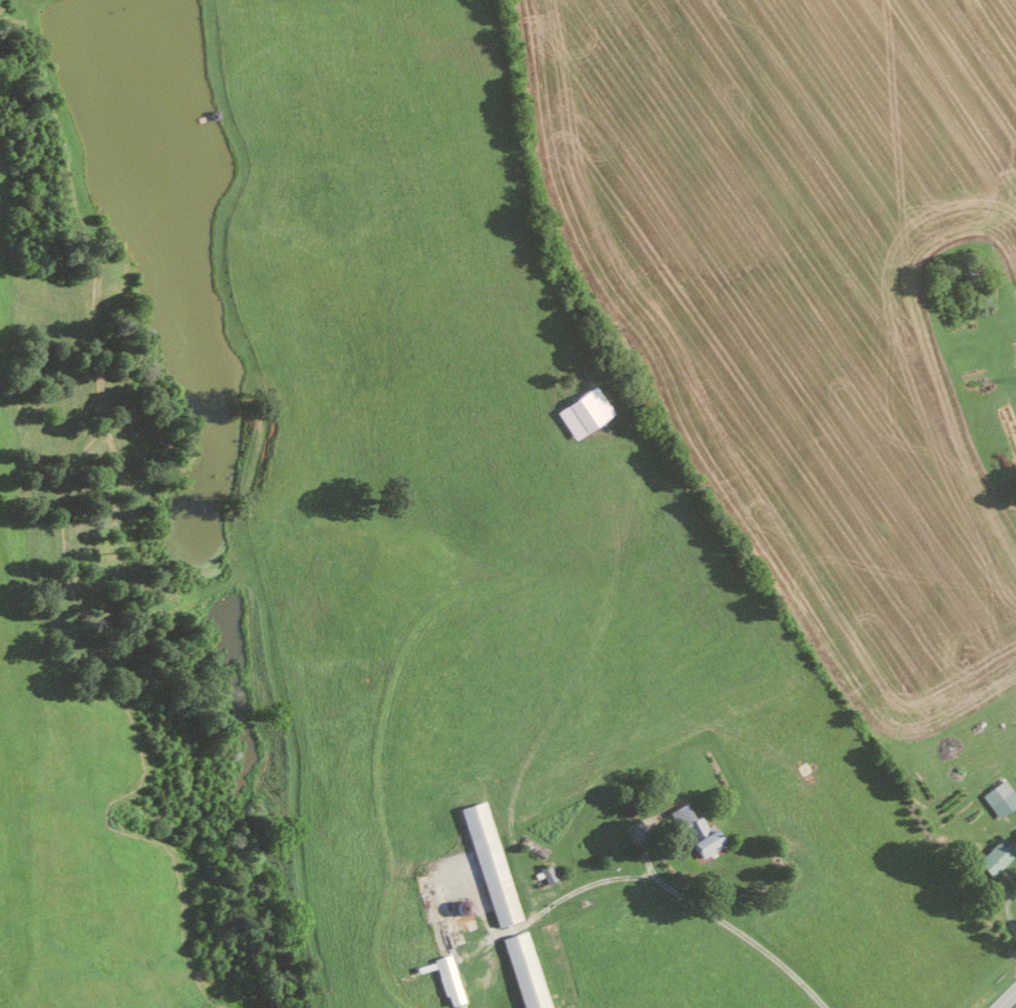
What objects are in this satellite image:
building: (580, 410)
crop: (76, 732)
building: (993, 791)
building: (691, 830)
building: (989, 858)
building: (489, 864)
building: (545, 872)
road: (709, 914)
building: (523, 971)
building: (445, 979)
road: (1006, 998)

